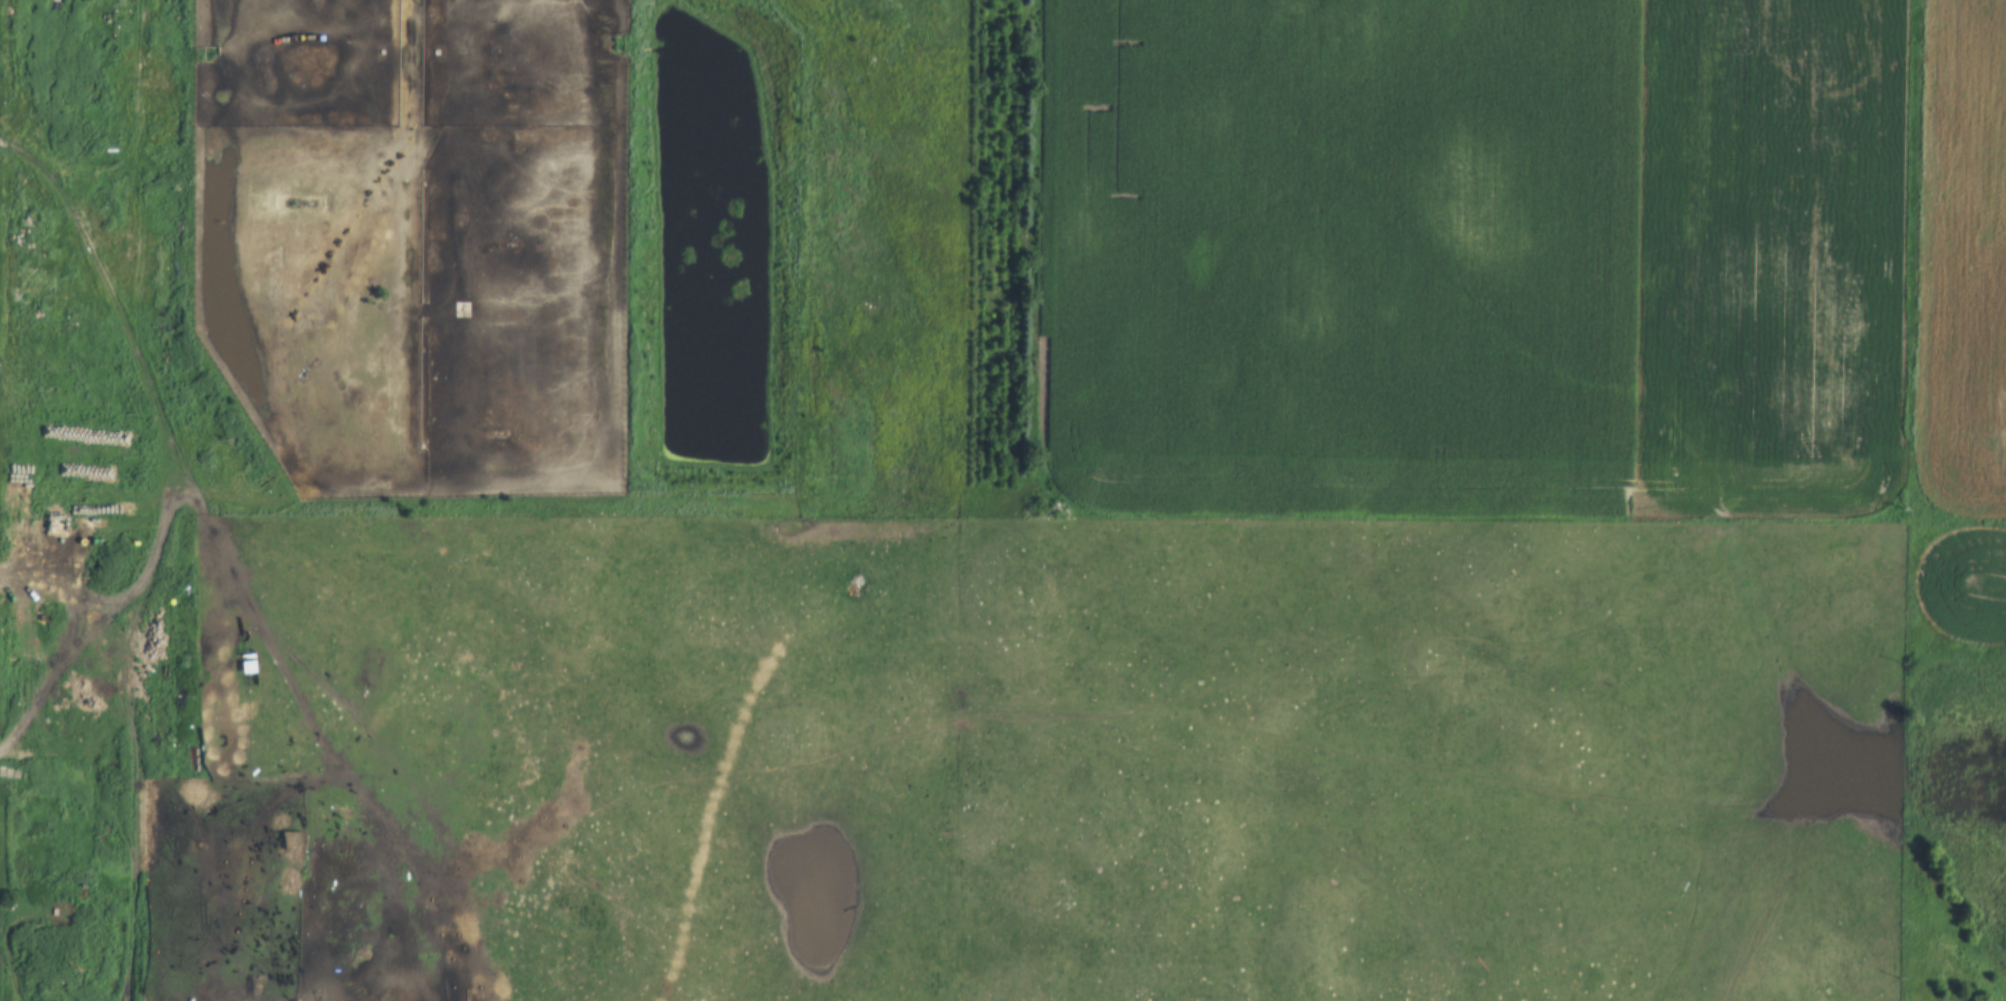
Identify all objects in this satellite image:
building: (362, 997)

